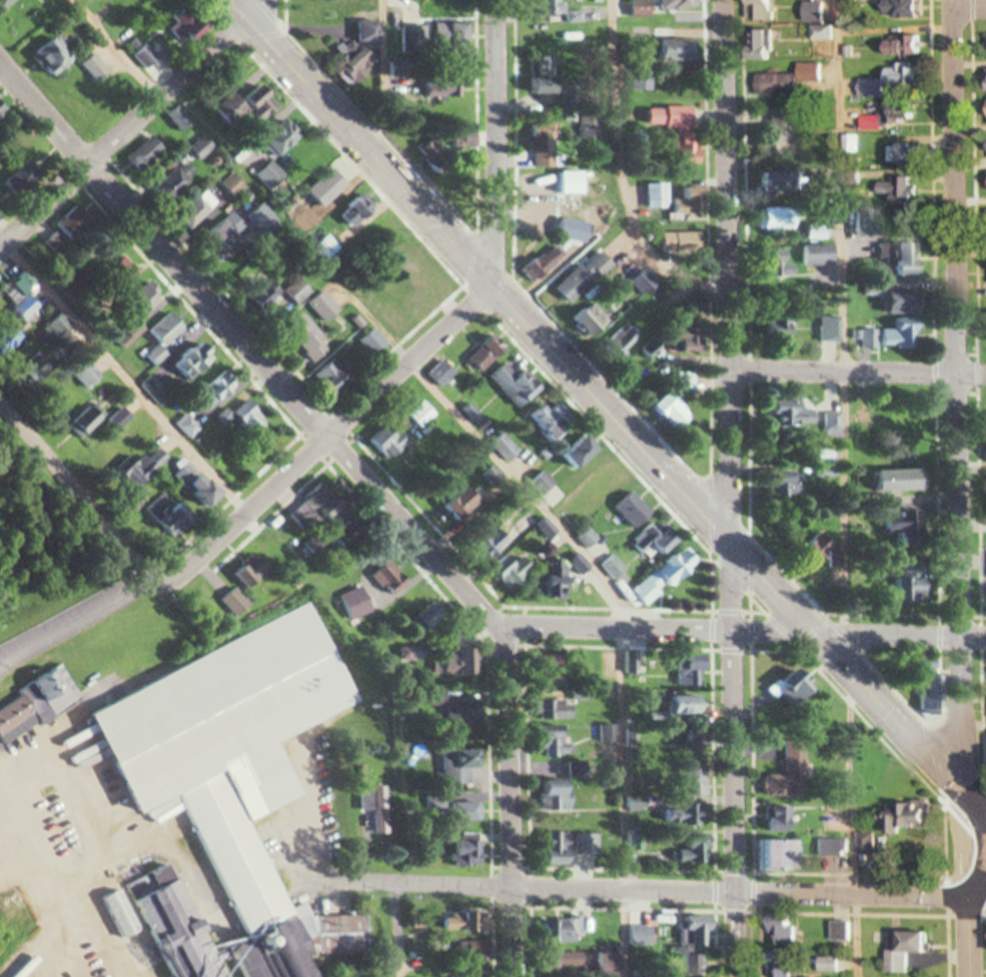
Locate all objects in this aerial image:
building: (6, 2)
building: (679, 4)
road: (969, 7)
building: (551, 8)
building: (763, 10)
building: (188, 26)
building: (823, 33)
building: (907, 45)
road: (117, 49)
building: (676, 50)
building: (54, 57)
building: (97, 68)
road: (381, 72)
building: (903, 76)
building: (790, 80)
building: (3, 110)
building: (897, 114)
road: (132, 123)
building: (683, 133)
road: (493, 137)
building: (283, 139)
building: (552, 148)
building: (147, 153)
road: (619, 176)
building: (18, 183)
building: (234, 185)
road: (974, 185)
building: (199, 210)
building: (778, 219)
building: (264, 221)
building: (72, 229)
building: (818, 231)
building: (220, 237)
building: (809, 244)
building: (768, 252)
building: (407, 257)
building: (911, 259)
building: (784, 263)
building: (125, 270)
building: (585, 275)
building: (301, 291)
building: (269, 295)
building: (145, 298)
building: (907, 301)
building: (327, 307)
building: (29, 308)
road: (843, 314)
building: (781, 325)
building: (832, 329)
building: (901, 333)
building: (309, 334)
building: (869, 334)
building: (167, 336)
building: (489, 355)
building: (193, 364)
road: (857, 367)
road: (121, 377)
building: (685, 380)
building: (515, 384)
building: (221, 389)
building: (159, 393)
road: (610, 407)
building: (675, 410)
building: (799, 412)
building: (90, 420)
building: (550, 424)
building: (191, 426)
building: (391, 442)
building: (584, 451)
building: (148, 466)
road: (292, 467)
road: (372, 475)
building: (186, 477)
building: (606, 481)
building: (545, 482)
building: (900, 483)
road: (732, 488)
road: (962, 488)
road: (77, 489)
building: (635, 510)
building: (172, 513)
building: (589, 537)
building: (657, 540)
building: (680, 568)
building: (255, 571)
building: (518, 572)
road: (607, 584)
building: (917, 586)
building: (238, 601)
road: (748, 628)
building: (688, 674)
building: (38, 704)
building: (688, 705)
building: (559, 710)
building: (558, 744)
building: (693, 745)
building: (799, 760)
building: (461, 767)
building: (239, 774)
building: (695, 782)
building: (558, 795)
building: (468, 812)
building: (925, 816)
road: (850, 825)
building: (868, 844)
building: (589, 845)
building: (471, 849)
building: (564, 849)
building: (694, 853)
building: (782, 855)
road: (664, 889)
road: (395, 928)
building: (569, 931)
building: (839, 931)
building: (643, 935)
building: (908, 951)
building: (828, 965)

